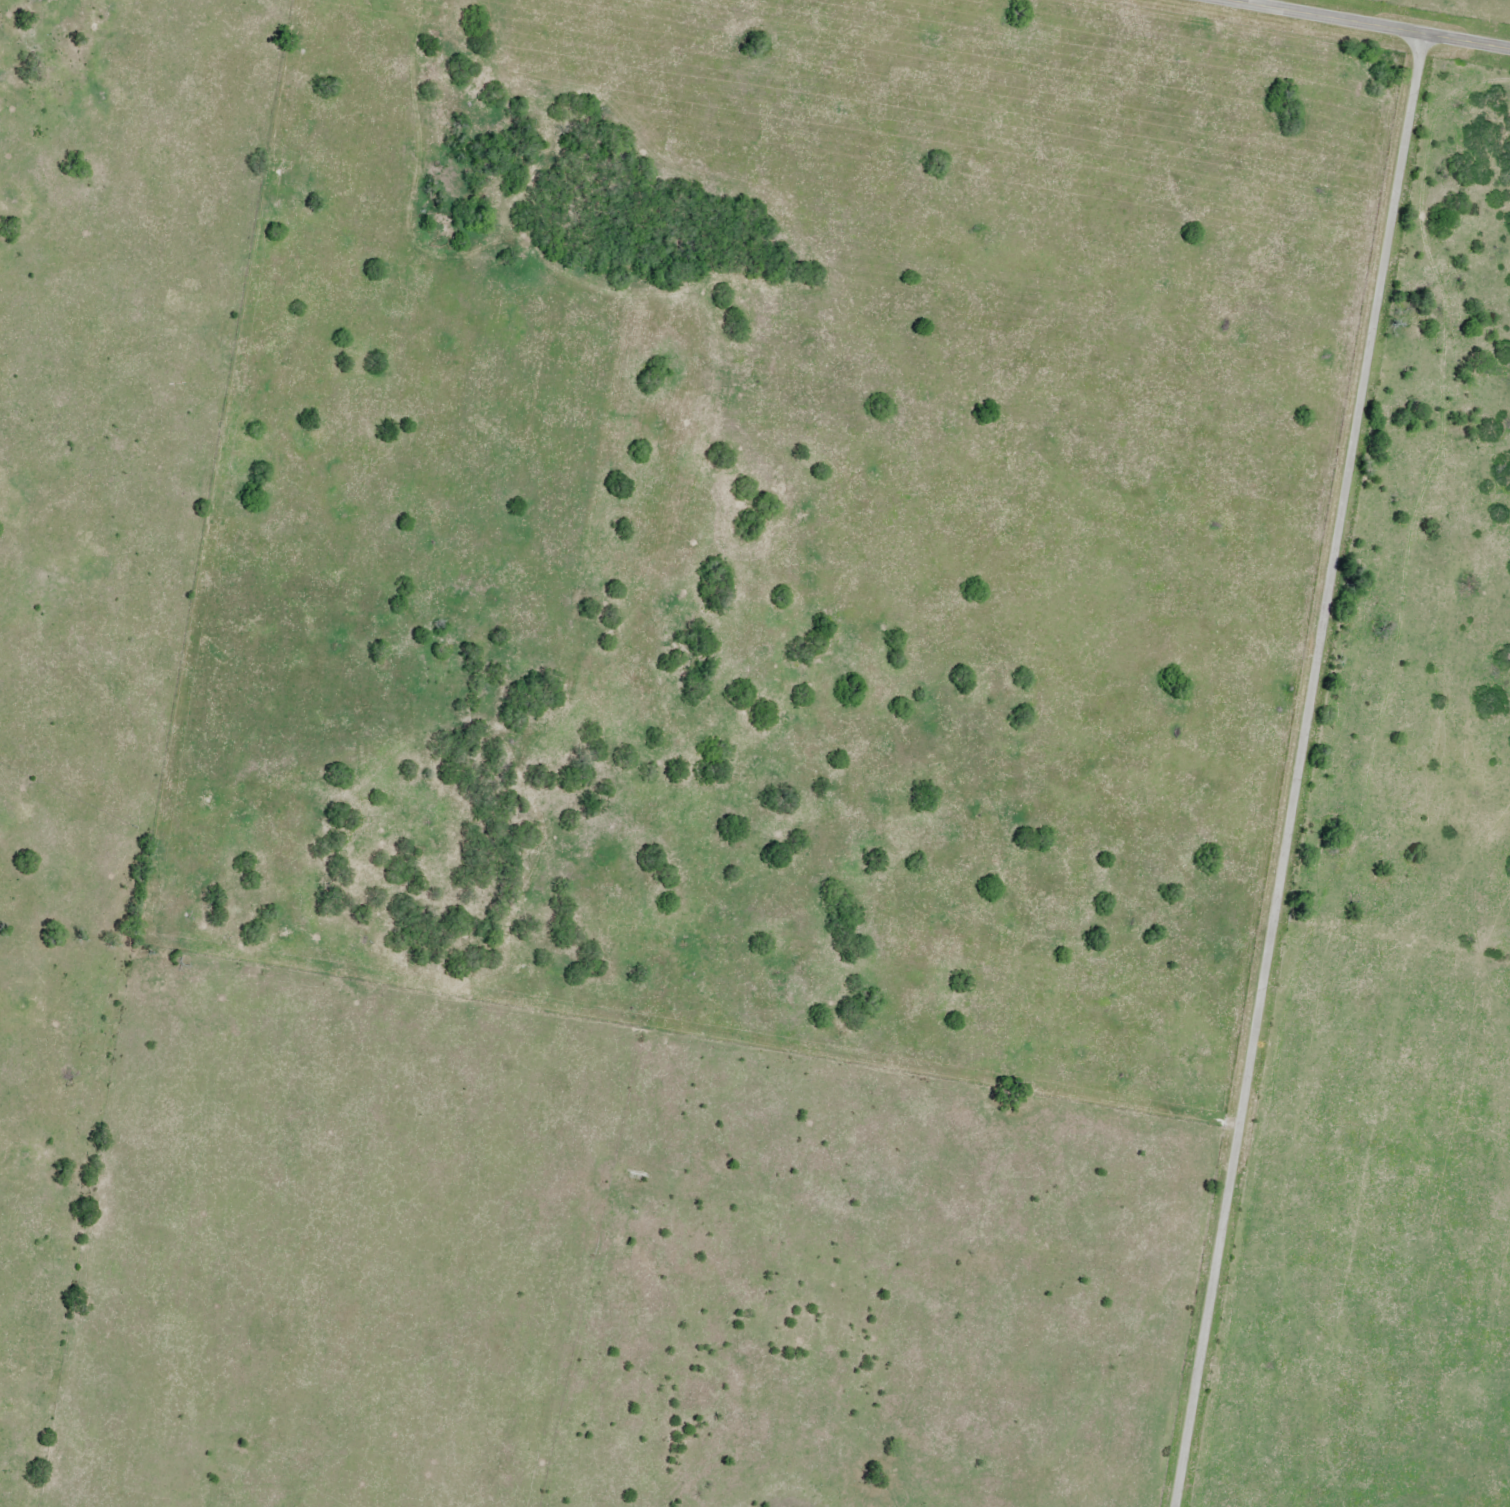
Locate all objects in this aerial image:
road: (1369, 24)
road: (1297, 770)

